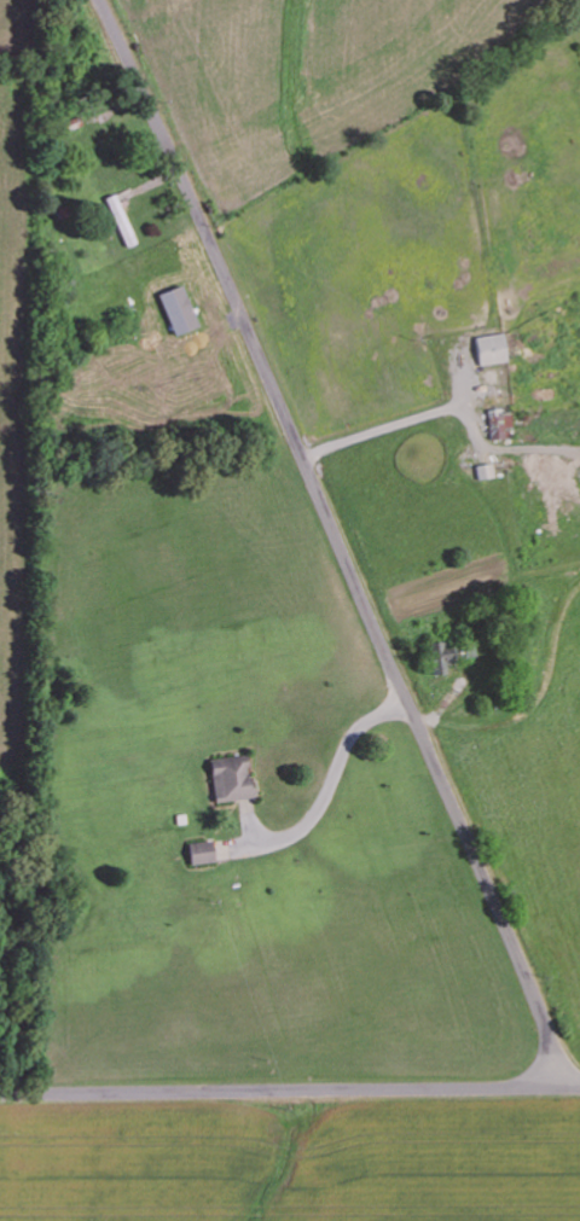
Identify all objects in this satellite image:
building: (121, 225)
building: (488, 348)
building: (482, 470)
road: (337, 540)
building: (217, 790)
building: (199, 853)
road: (568, 1086)
road: (278, 1089)

